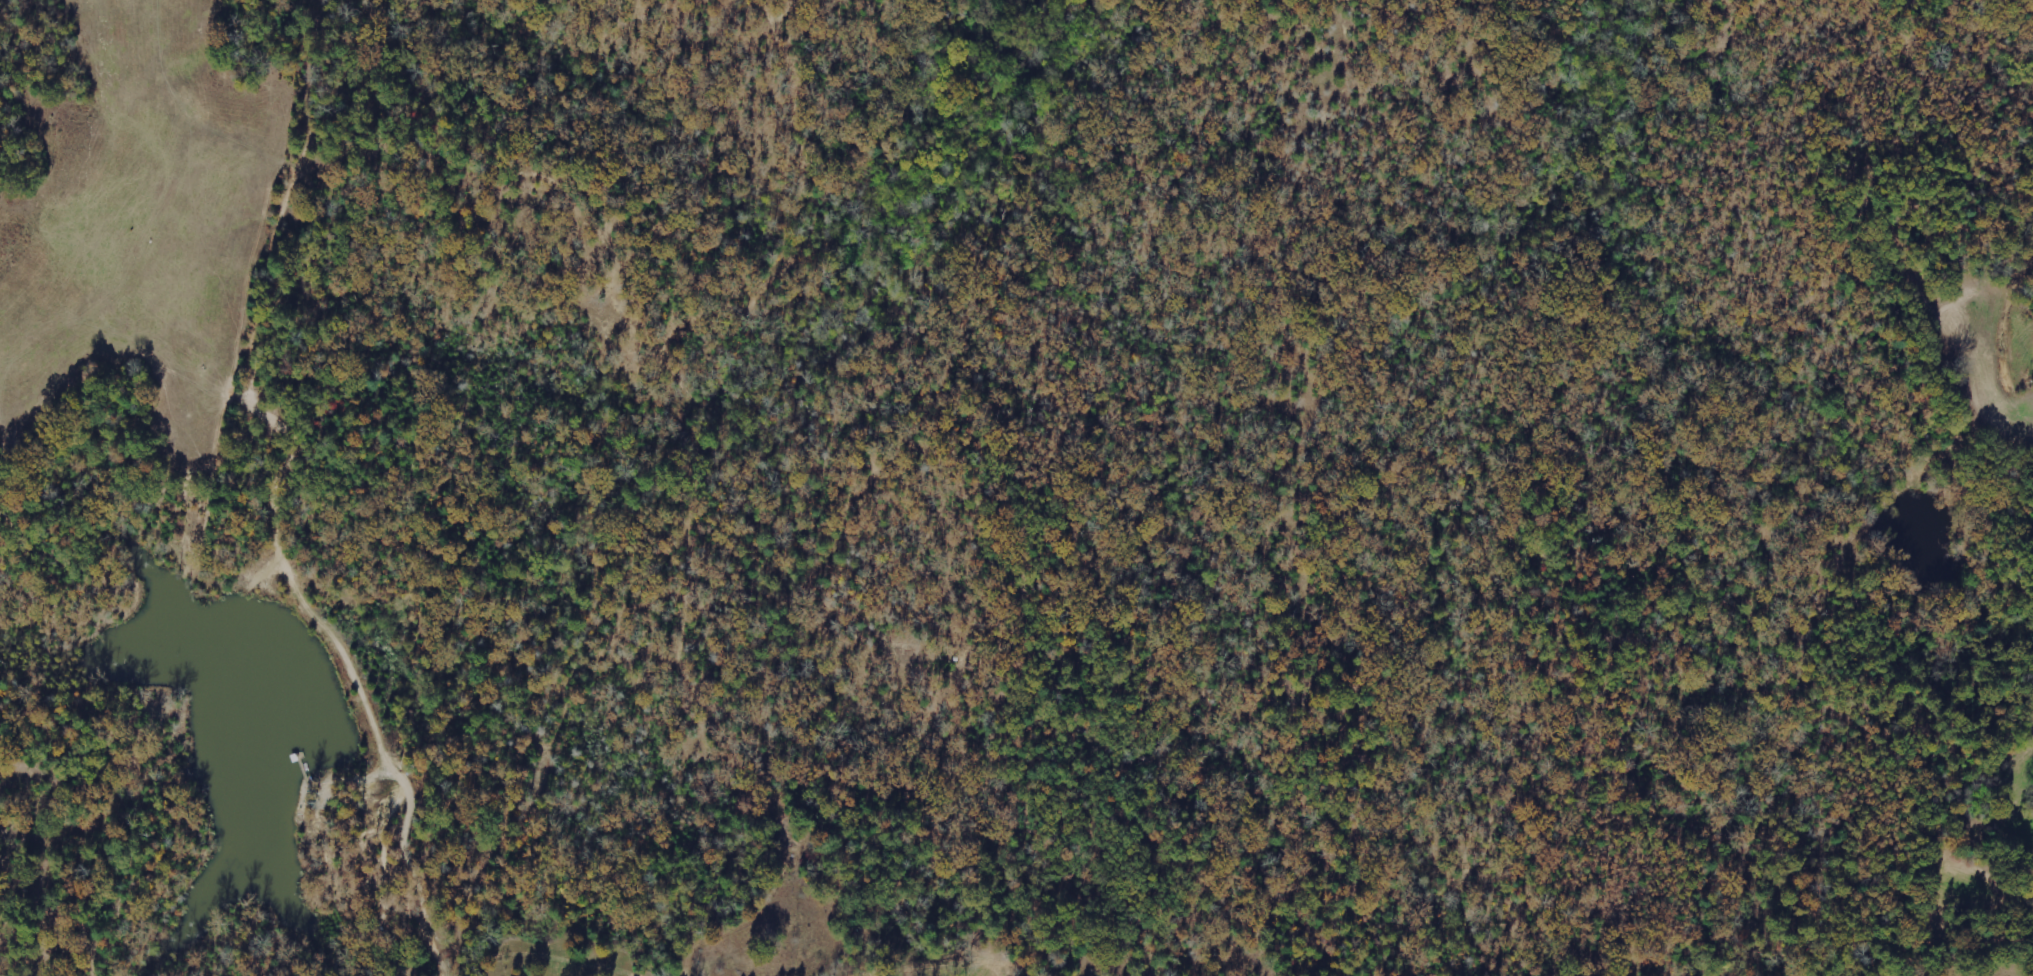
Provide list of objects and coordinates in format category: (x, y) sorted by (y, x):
road: (1747, 728)

